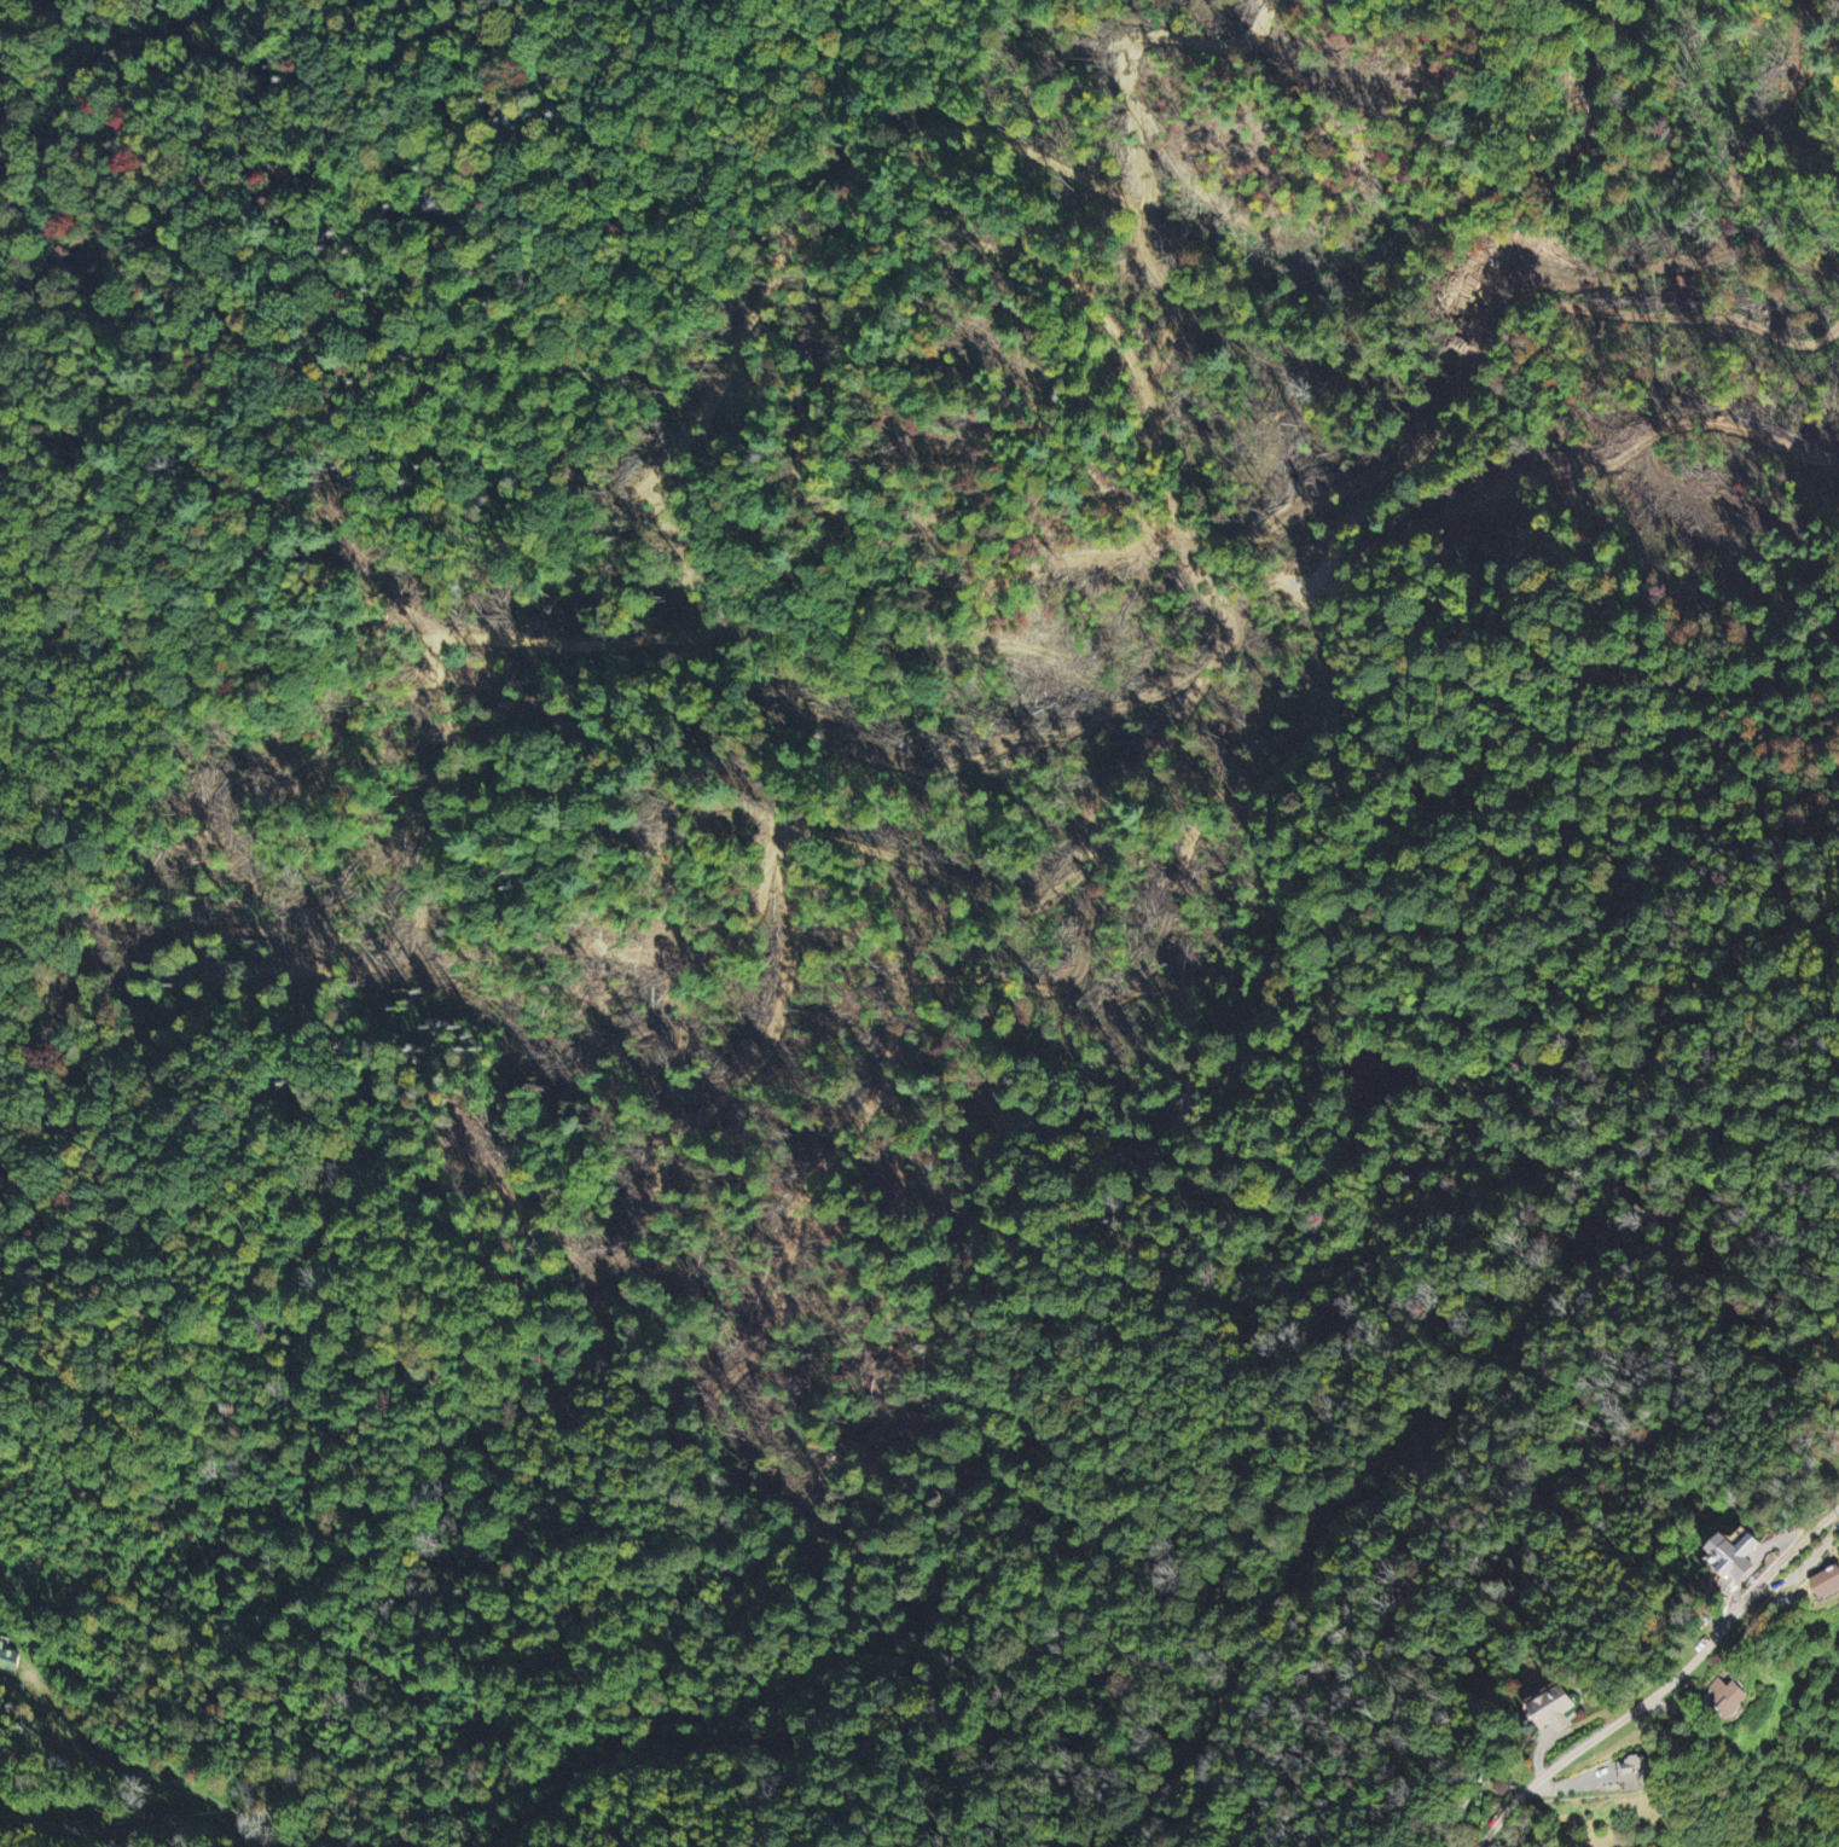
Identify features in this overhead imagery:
building: (1753, 1553)
building: (1837, 1579)
building: (10, 1659)
road: (1665, 1689)
building: (1746, 1695)
building: (1566, 1708)
road: (648, 1750)
building: (1648, 1773)
road: (121, 1828)

